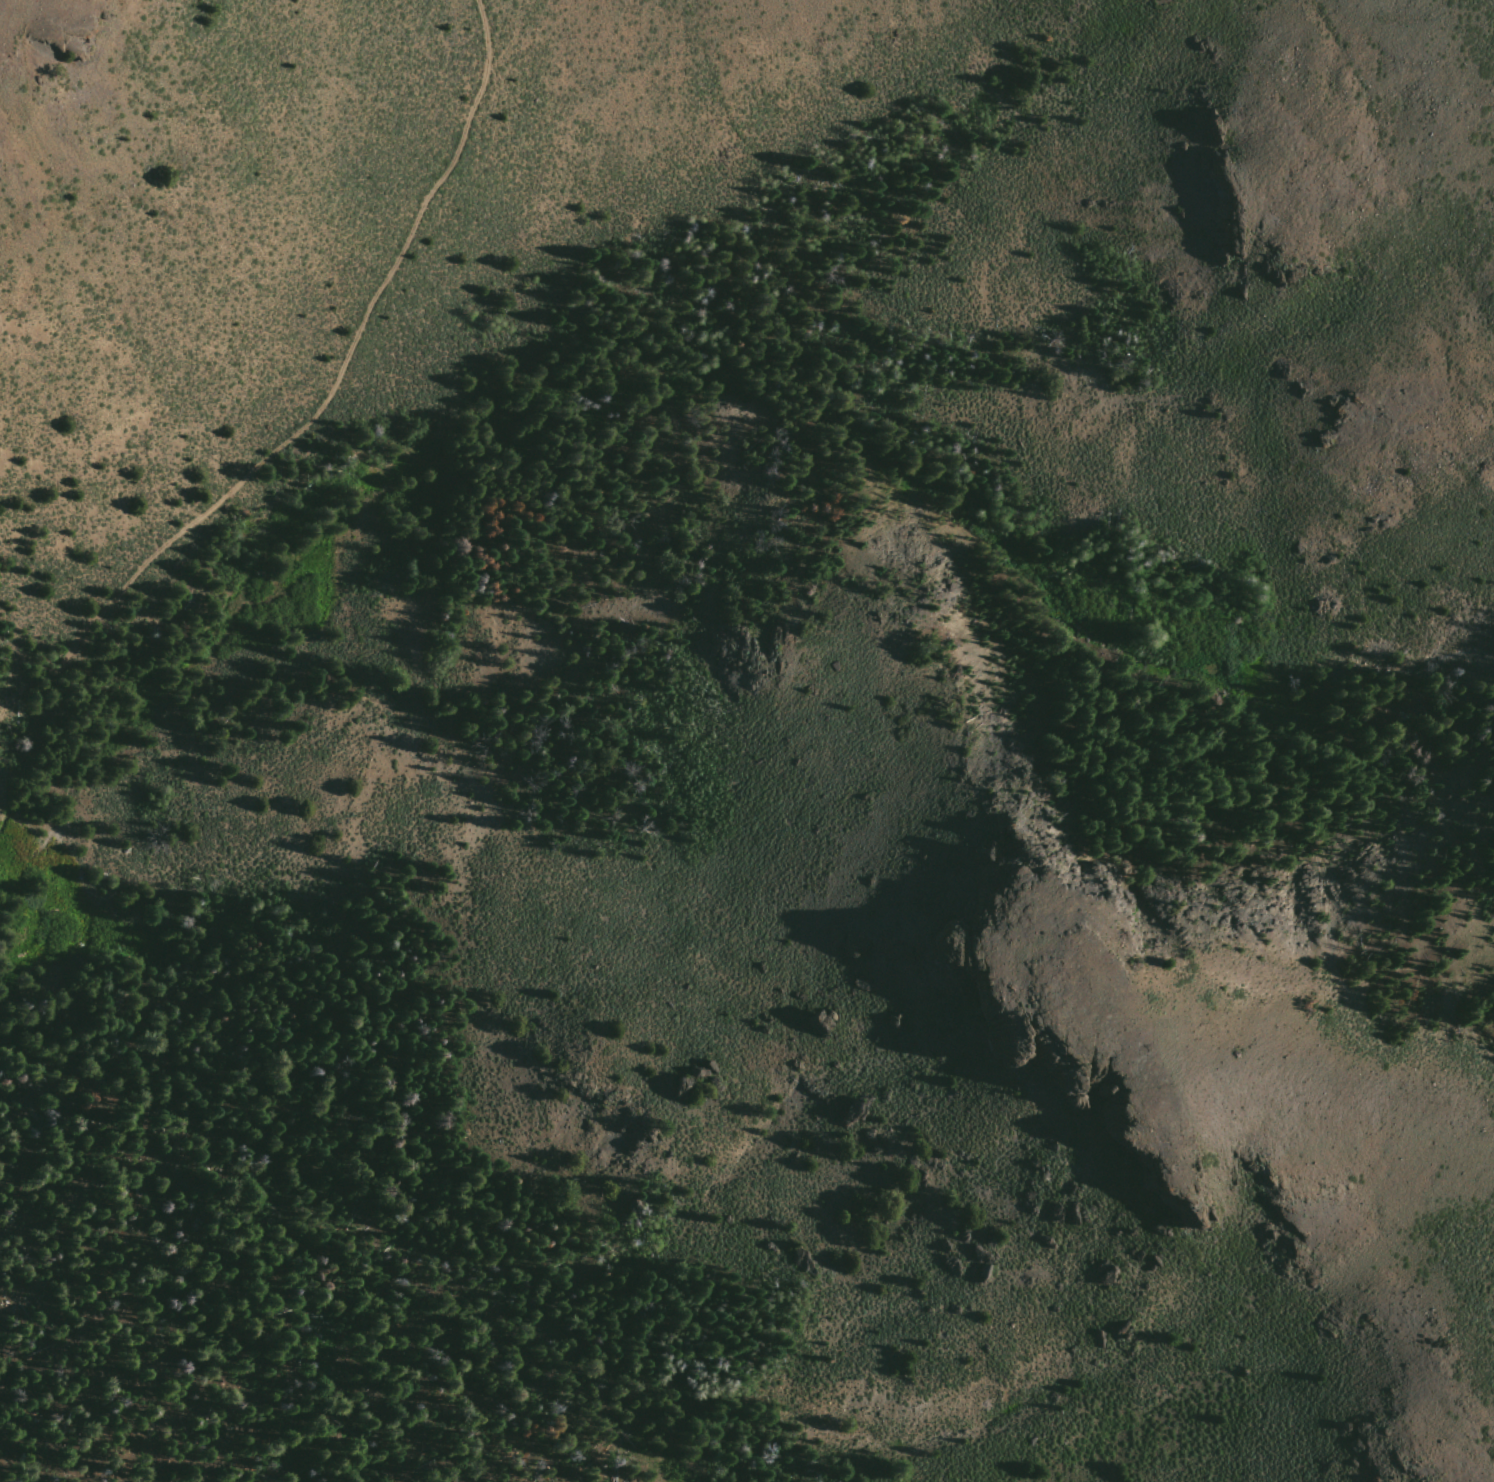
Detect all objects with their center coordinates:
road: (322, 427)

